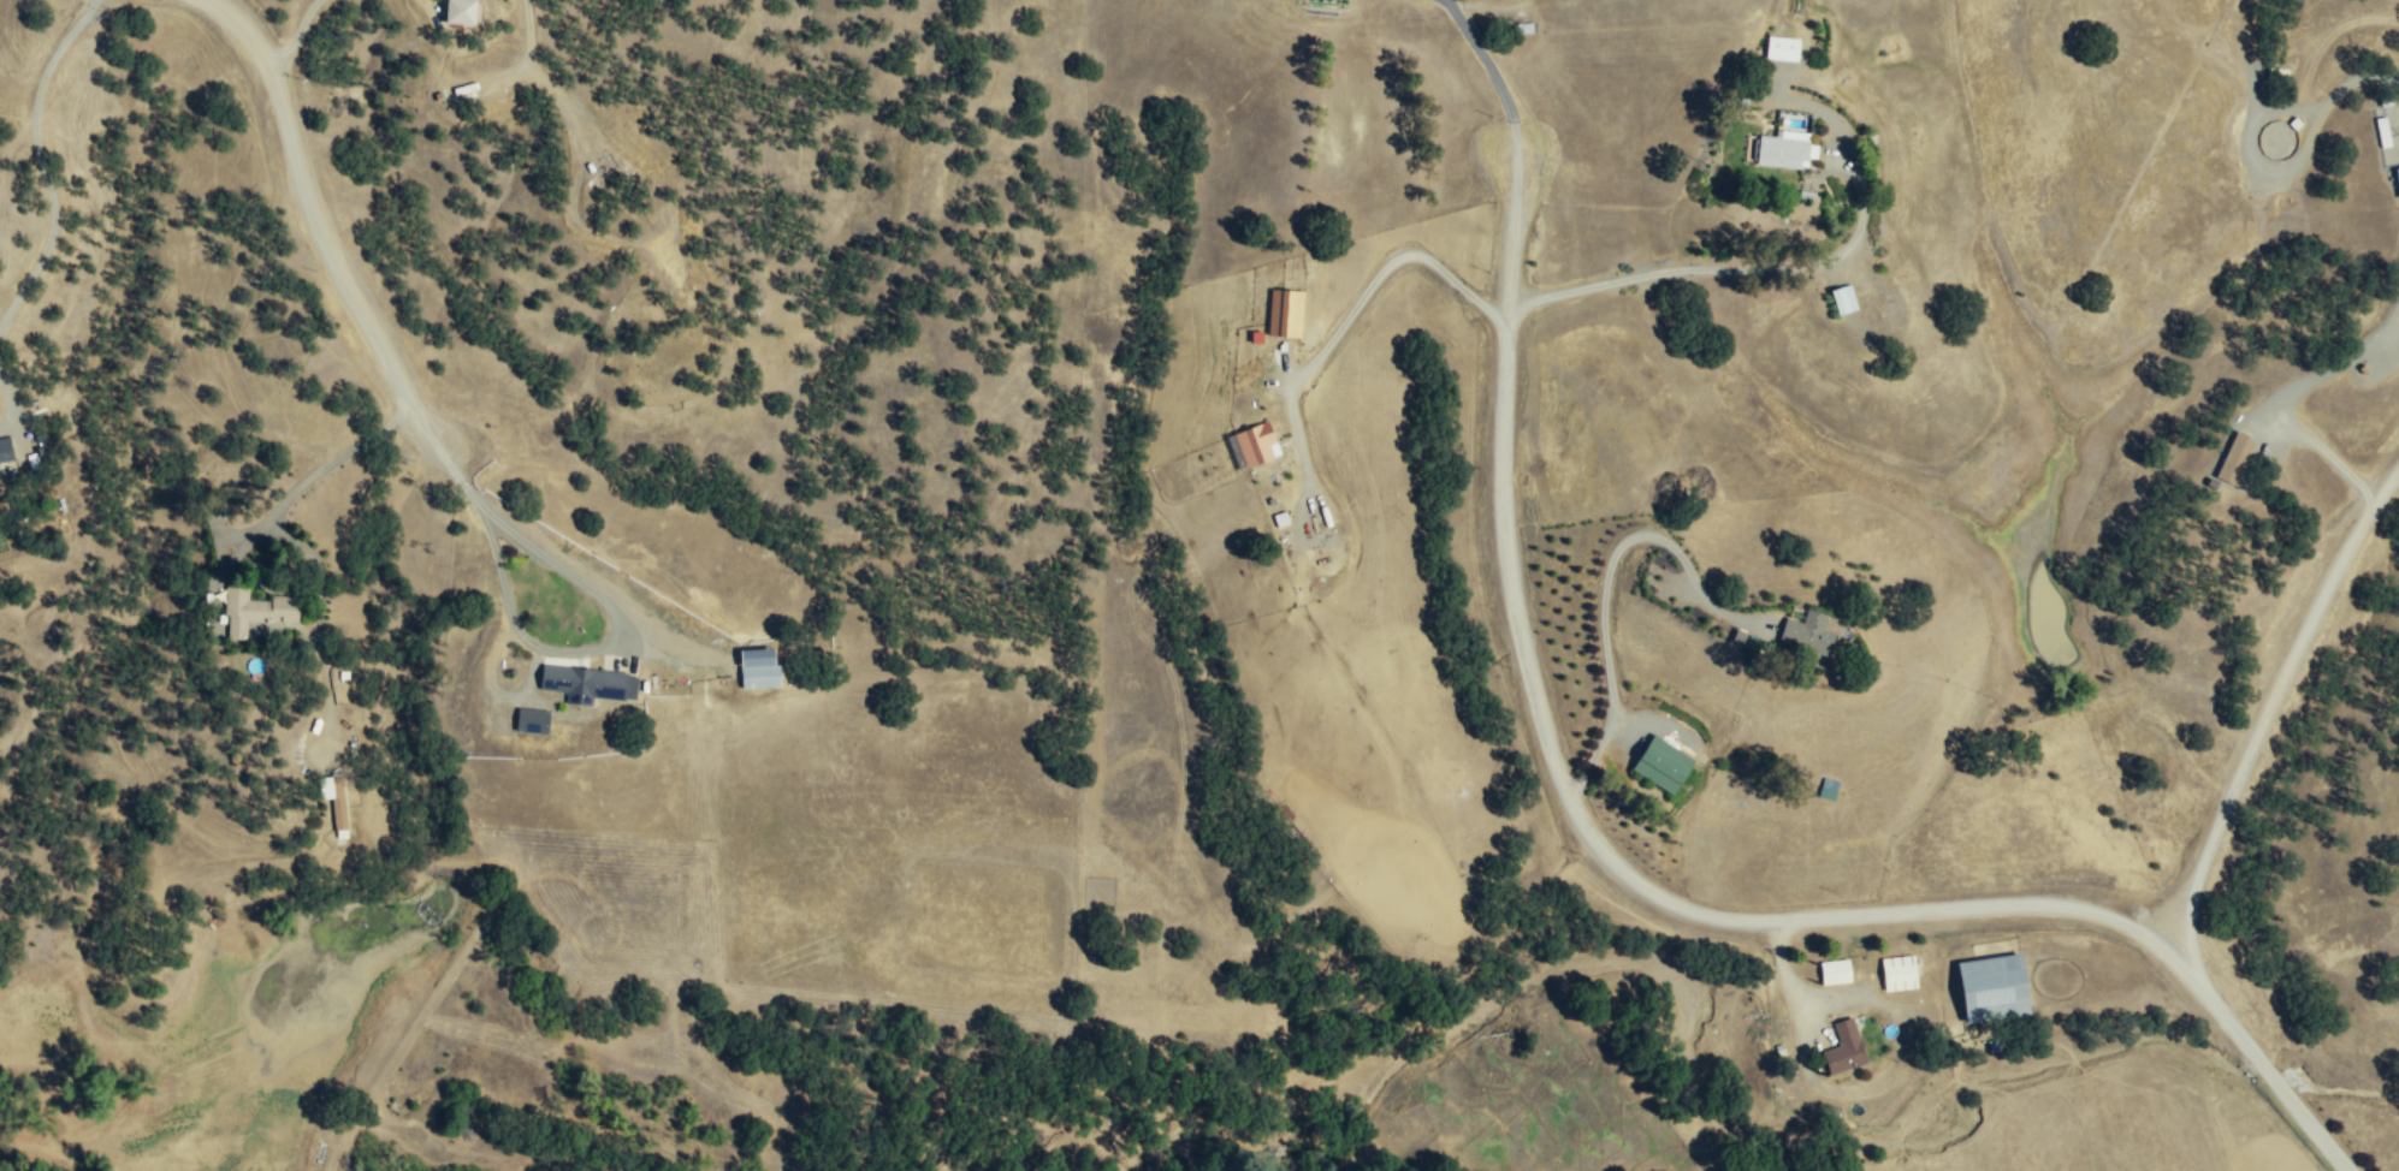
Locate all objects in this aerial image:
building: (457, 12)
building: (1782, 48)
road: (1483, 60)
building: (2383, 132)
building: (1785, 149)
road: (43, 161)
road: (306, 202)
road: (1386, 268)
road: (1730, 268)
building: (1843, 299)
building: (1284, 314)
road: (5, 387)
building: (1256, 444)
building: (5, 448)
building: (2235, 459)
road: (303, 480)
building: (255, 611)
building: (1807, 634)
road: (533, 644)
building: (759, 676)
building: (587, 683)
building: (531, 720)
road: (2274, 731)
building: (1663, 765)
building: (1830, 789)
building: (333, 798)
road: (1576, 808)
building: (1835, 970)
building: (1899, 971)
building: (1992, 987)
building: (1844, 1046)
road: (2280, 1077)

